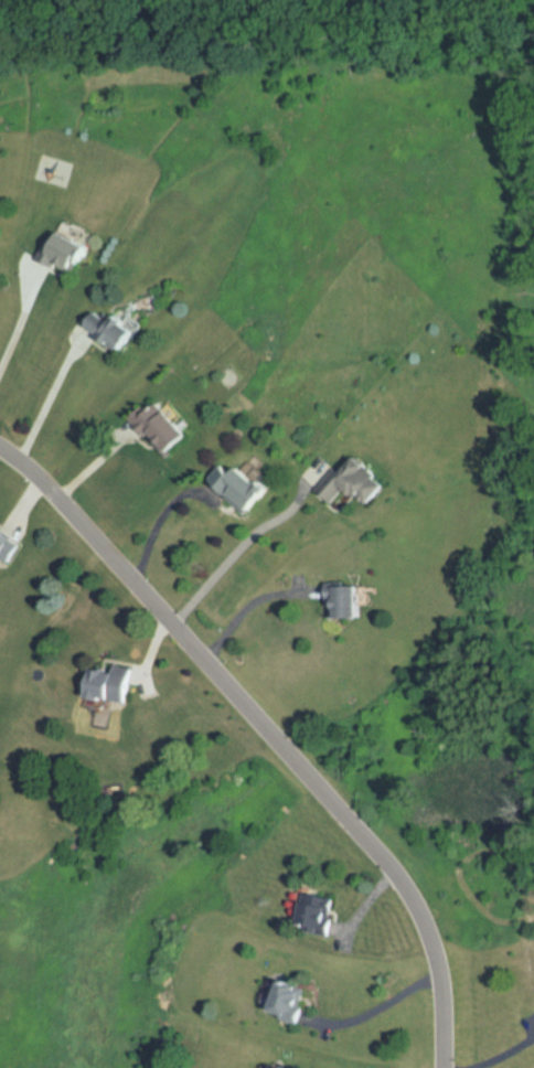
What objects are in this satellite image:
building: (67, 247)
building: (1, 265)
road: (20, 324)
building: (115, 330)
road: (47, 400)
building: (168, 431)
building: (356, 482)
building: (243, 483)
road: (160, 512)
building: (10, 538)
road: (243, 543)
building: (350, 600)
road: (247, 607)
building: (113, 682)
road: (273, 731)
building: (319, 911)
building: (295, 1002)
road: (376, 1003)
road: (501, 1055)

